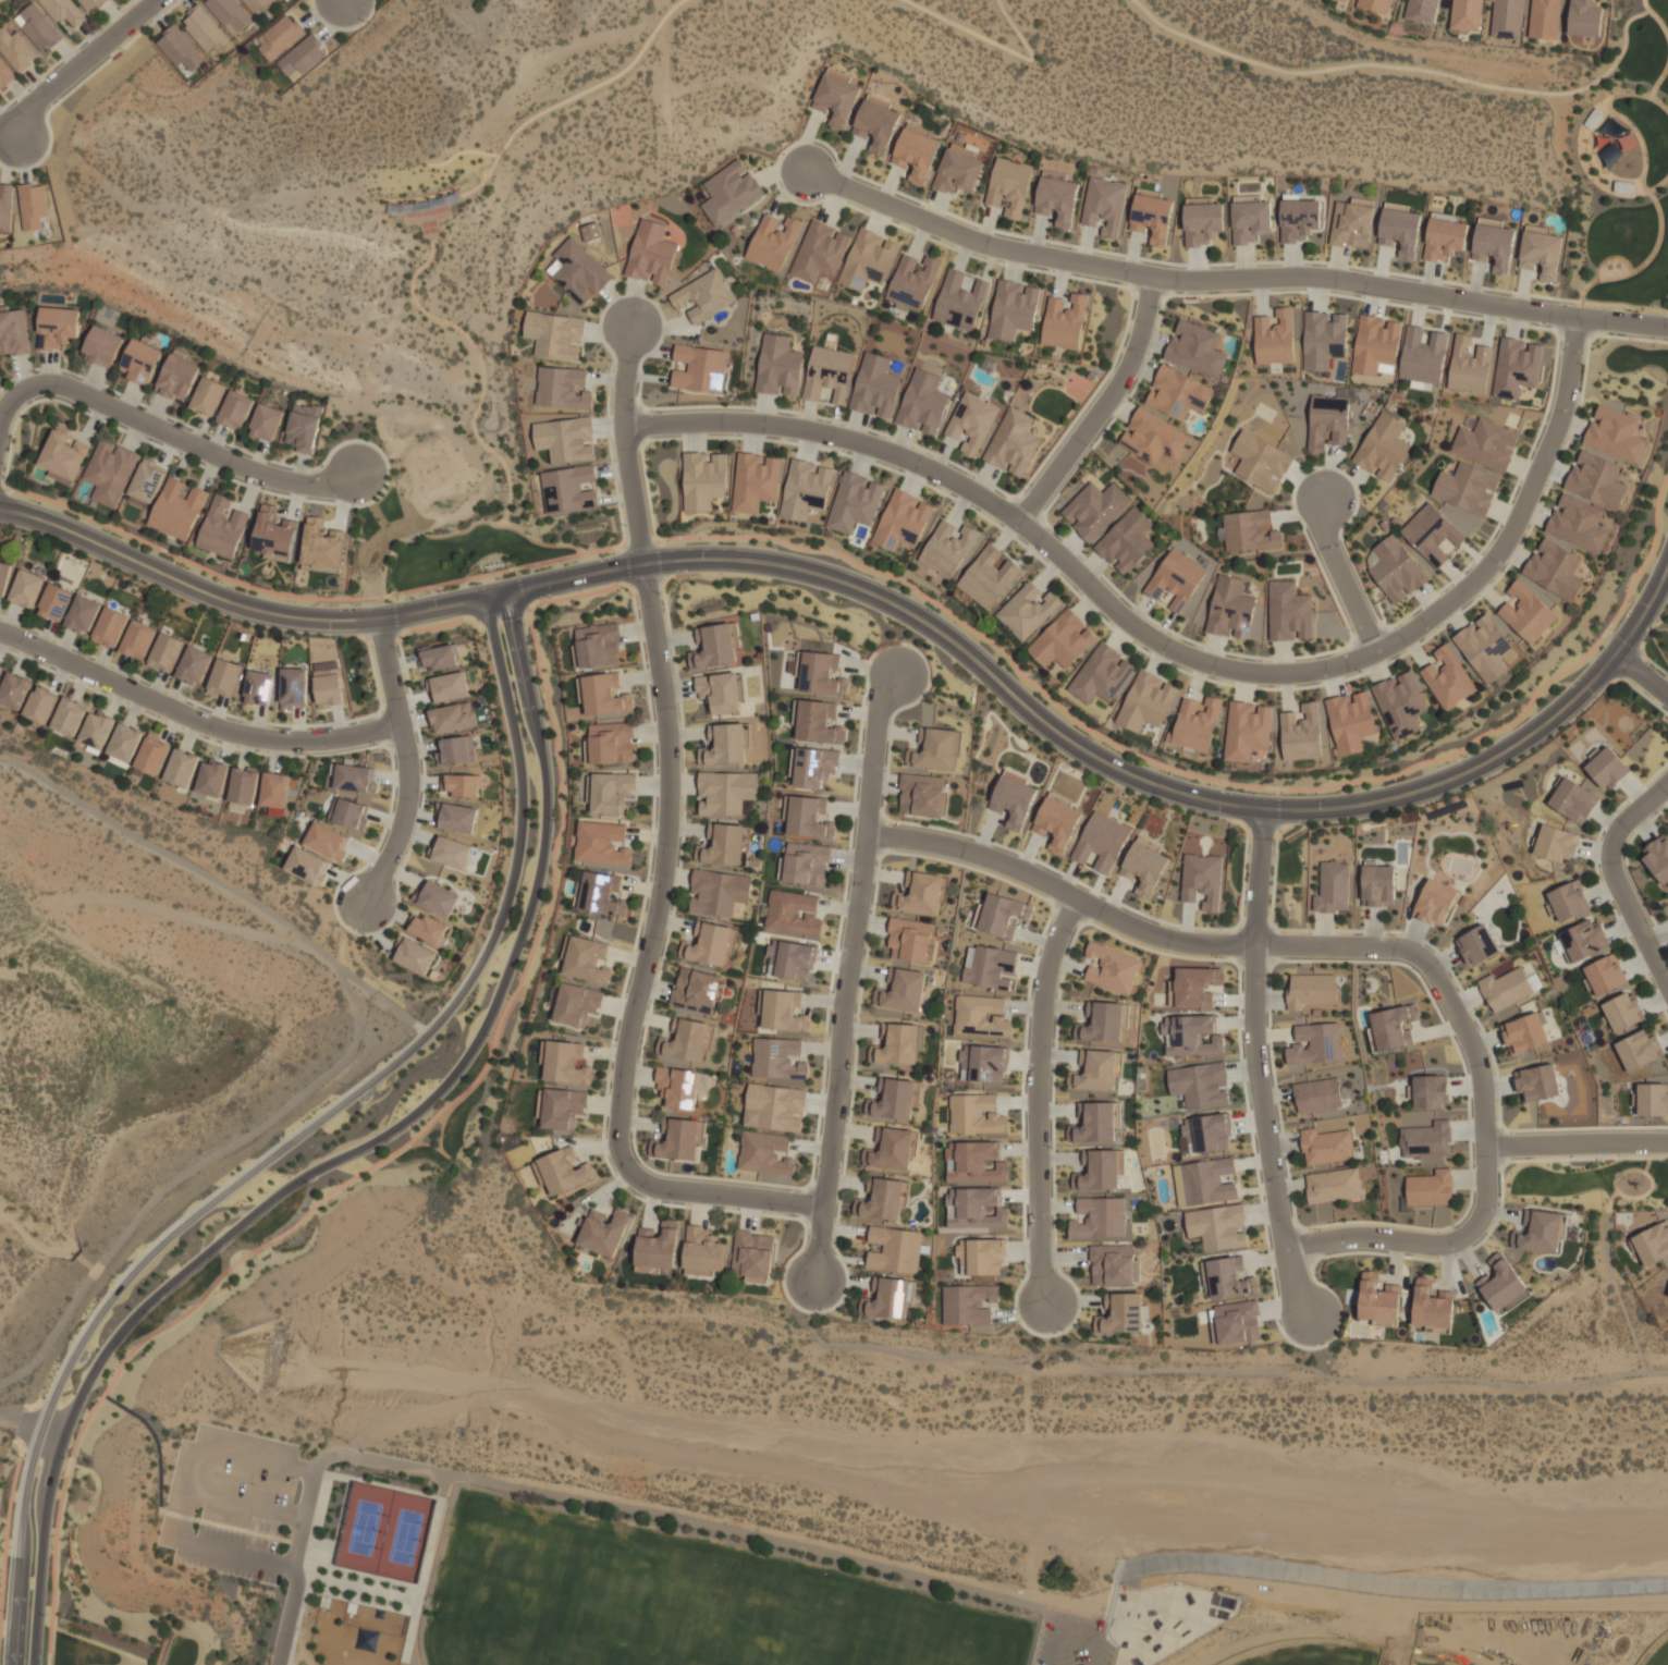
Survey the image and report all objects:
building: (1345, 0)
building: (93, 3)
building: (259, 4)
building: (1375, 5)
building: (1422, 10)
building: (64, 11)
building: (230, 13)
building: (1467, 14)
building: (1585, 17)
building: (1507, 19)
building: (1545, 19)
street lamp: (365, 22)
building: (38, 26)
building: (205, 29)
building: (281, 36)
road: (993, 41)
building: (16, 49)
street lamp: (123, 49)
building: (180, 49)
building: (302, 57)
road: (79, 63)
road: (1411, 72)
building: (5, 74)
building: (837, 99)
building: (878, 125)
road: (9, 143)
building: (917, 154)
building: (958, 170)
building: (1010, 185)
building: (731, 192)
building: (1059, 199)
building: (1106, 205)
building: (5, 206)
building: (33, 206)
building: (1152, 217)
building: (1251, 219)
building: (1298, 219)
building: (1203, 222)
building: (1352, 222)
building: (1400, 229)
road: (439, 231)
building: (590, 231)
building: (1445, 238)
building: (774, 242)
building: (1494, 244)
building: (822, 252)
building: (1542, 252)
building: (652, 253)
building: (870, 259)
building: (579, 270)
road: (1230, 278)
building: (915, 282)
park: (299, 293)
building: (706, 295)
building: (961, 302)
street lamp: (1158, 308)
building: (1015, 309)
building: (1067, 321)
building: (57, 327)
building: (13, 332)
building: (555, 333)
building: (1275, 338)
building: (1325, 340)
building: (1375, 344)
building: (102, 345)
building: (1198, 350)
building: (1424, 356)
building: (140, 362)
street lamp: (1584, 364)
building: (780, 366)
building: (1470, 366)
building: (1517, 367)
building: (702, 368)
building: (830, 374)
building: (177, 377)
building: (876, 385)
street lamp: (7, 387)
building: (563, 387)
street lamp: (106, 391)
building: (1179, 393)
road: (5, 394)
building: (208, 396)
building: (924, 403)
road: (1103, 406)
building: (235, 409)
street lamp: (662, 412)
building: (1328, 420)
building: (266, 421)
building: (973, 421)
building: (303, 427)
road: (170, 433)
building: (1617, 434)
building: (1154, 437)
street lamp: (150, 439)
building: (566, 439)
building: (1014, 442)
road: (625, 444)
building: (1486, 444)
building: (1384, 448)
street lamp: (237, 452)
building: (64, 454)
building: (1260, 461)
street lamp: (4, 464)
street lamp: (323, 466)
building: (110, 472)
building: (148, 480)
building: (704, 480)
building: (1598, 480)
building: (756, 482)
street lamp: (1031, 483)
building: (568, 489)
building: (806, 489)
building: (1467, 489)
building: (856, 502)
building: (179, 510)
building: (1096, 510)
building: (904, 521)
building: (1580, 524)
street lamp: (625, 525)
building: (223, 527)
road: (467, 530)
building: (1248, 531)
building: (275, 534)
building: (1432, 534)
building: (1129, 541)
building: (949, 548)
building: (323, 549)
building: (1396, 568)
building: (1556, 571)
building: (3, 577)
building: (990, 577)
road: (1342, 577)
building: (1177, 578)
building: (26, 588)
street lamp: (234, 588)
street lamp: (660, 592)
street lamp: (1633, 601)
building: (54, 602)
building: (1231, 608)
road: (895, 609)
street lamp: (934, 609)
building: (1029, 611)
building: (1289, 612)
building: (1529, 613)
building: (83, 614)
building: (111, 627)
building: (138, 639)
building: (1064, 640)
building: (598, 645)
building: (715, 645)
street lamp: (897, 645)
building: (1485, 647)
building: (165, 652)
road: (1173, 654)
building: (438, 657)
building: (194, 665)
building: (0, 666)
street lamp: (1656, 669)
street lamp: (1362, 672)
road: (1642, 673)
building: (822, 674)
building: (1103, 675)
building: (224, 677)
building: (1450, 678)
building: (327, 684)
building: (449, 686)
building: (258, 687)
building: (292, 687)
building: (14, 690)
building: (720, 691)
building: (603, 694)
building: (1148, 701)
building: (1401, 703)
building: (40, 705)
building: (69, 717)
building: (453, 717)
road: (192, 718)
building: (819, 722)
building: (1352, 722)
building: (1198, 724)
building: (96, 731)
building: (1248, 731)
building: (1303, 734)
street lamp: (1094, 738)
building: (124, 742)
building: (611, 743)
street lamp: (376, 744)
building: (727, 744)
building: (457, 749)
building: (936, 750)
building: (152, 755)
street lamp: (1465, 756)
road: (404, 760)
building: (182, 767)
building: (814, 767)
building: (1607, 768)
building: (212, 778)
building: (355, 778)
building: (244, 785)
building: (463, 785)
building: (275, 789)
building: (611, 792)
building: (726, 792)
street lamp: (1255, 793)
building: (921, 795)
building: (1013, 799)
building: (1572, 800)
building: (352, 813)
building: (458, 817)
building: (809, 817)
street lamp: (895, 824)
building: (1056, 824)
street lamp: (1275, 840)
building: (326, 841)
building: (1101, 842)
building: (601, 843)
building: (1556, 843)
building: (724, 845)
building: (452, 852)
building: (1657, 858)
building: (806, 864)
building: (306, 865)
building: (1143, 867)
road: (1615, 877)
building: (1202, 880)
building: (1377, 884)
building: (1333, 887)
building: (719, 892)
building: (602, 894)
building: (921, 894)
building: (439, 898)
building: (1567, 901)
building: (1436, 902)
street lamp: (1614, 902)
building: (793, 911)
building: (1002, 915)
building: (426, 928)
street lamp: (1074, 932)
building: (910, 940)
building: (1583, 940)
building: (709, 944)
building: (1477, 945)
road: (1375, 946)
building: (415, 956)
street lamp: (1217, 957)
building: (587, 959)
building: (790, 960)
road: (645, 966)
building: (989, 967)
building: (1112, 968)
building: (1605, 975)
road: (848, 976)
building: (1195, 985)
building: (1505, 989)
building: (696, 990)
building: (1312, 990)
building: (903, 991)
building: (576, 1004)
building: (784, 1011)
building: (1623, 1012)
building: (980, 1016)
building: (1103, 1021)
building: (1393, 1028)
building: (1524, 1032)
street lamp: (615, 1040)
building: (685, 1040)
building: (896, 1044)
building: (1316, 1044)
road: (354, 1049)
building: (1639, 1050)
building: (778, 1058)
building: (566, 1063)
road: (1258, 1066)
building: (1099, 1072)
street lamp: (1271, 1074)
building: (1537, 1084)
building: (1201, 1085)
building: (678, 1087)
building: (1430, 1091)
building: (1317, 1094)
building: (895, 1098)
road: (1038, 1098)
building: (1652, 1099)
building: (776, 1105)
building: (563, 1107)
building: (974, 1114)
building: (1095, 1122)
building: (1207, 1133)
road: (293, 1137)
building: (679, 1138)
building: (1426, 1140)
road: (1575, 1142)
building: (1324, 1146)
street lamp: (1051, 1147)
building: (894, 1149)
building: (764, 1153)
road: (345, 1154)
street lamp: (636, 1159)
building: (978, 1163)
building: (1100, 1170)
building: (565, 1171)
building: (1209, 1182)
building: (1334, 1186)
building: (1430, 1188)
building: (882, 1199)
building: (977, 1208)
building: (1102, 1217)
building: (1217, 1226)
street lamp: (1458, 1226)
river: (36, 1229)
street lamp: (1320, 1229)
building: (604, 1232)
building: (1542, 1233)
building: (1652, 1242)
building: (658, 1246)
building: (896, 1249)
building: (702, 1251)
building: (752, 1253)
building: (981, 1256)
building: (1113, 1264)
building: (1229, 1277)
building: (1501, 1284)
building: (888, 1298)
river: (144, 1301)
building: (1378, 1301)
building: (968, 1303)
building: (1433, 1308)
building: (1121, 1312)
building: (1237, 1322)
street lamp: (1065, 1330)
road: (19, 1422)
road: (48, 1432)
river: (937, 1450)
road: (186, 1497)
parking lot: (231, 1503)
road: (245, 1503)
road: (659, 1526)
park: (364, 1528)
road: (679, 1534)
park: (405, 1537)
park: (670, 1564)
road: (295, 1590)
park: (674, 1603)
road: (1072, 1619)
parking lot: (1042, 1643)
parking lot: (1072, 1649)
parking lot: (1105, 1653)
park: (1311, 1655)
park: (1660, 1656)
park: (1427, 1662)

